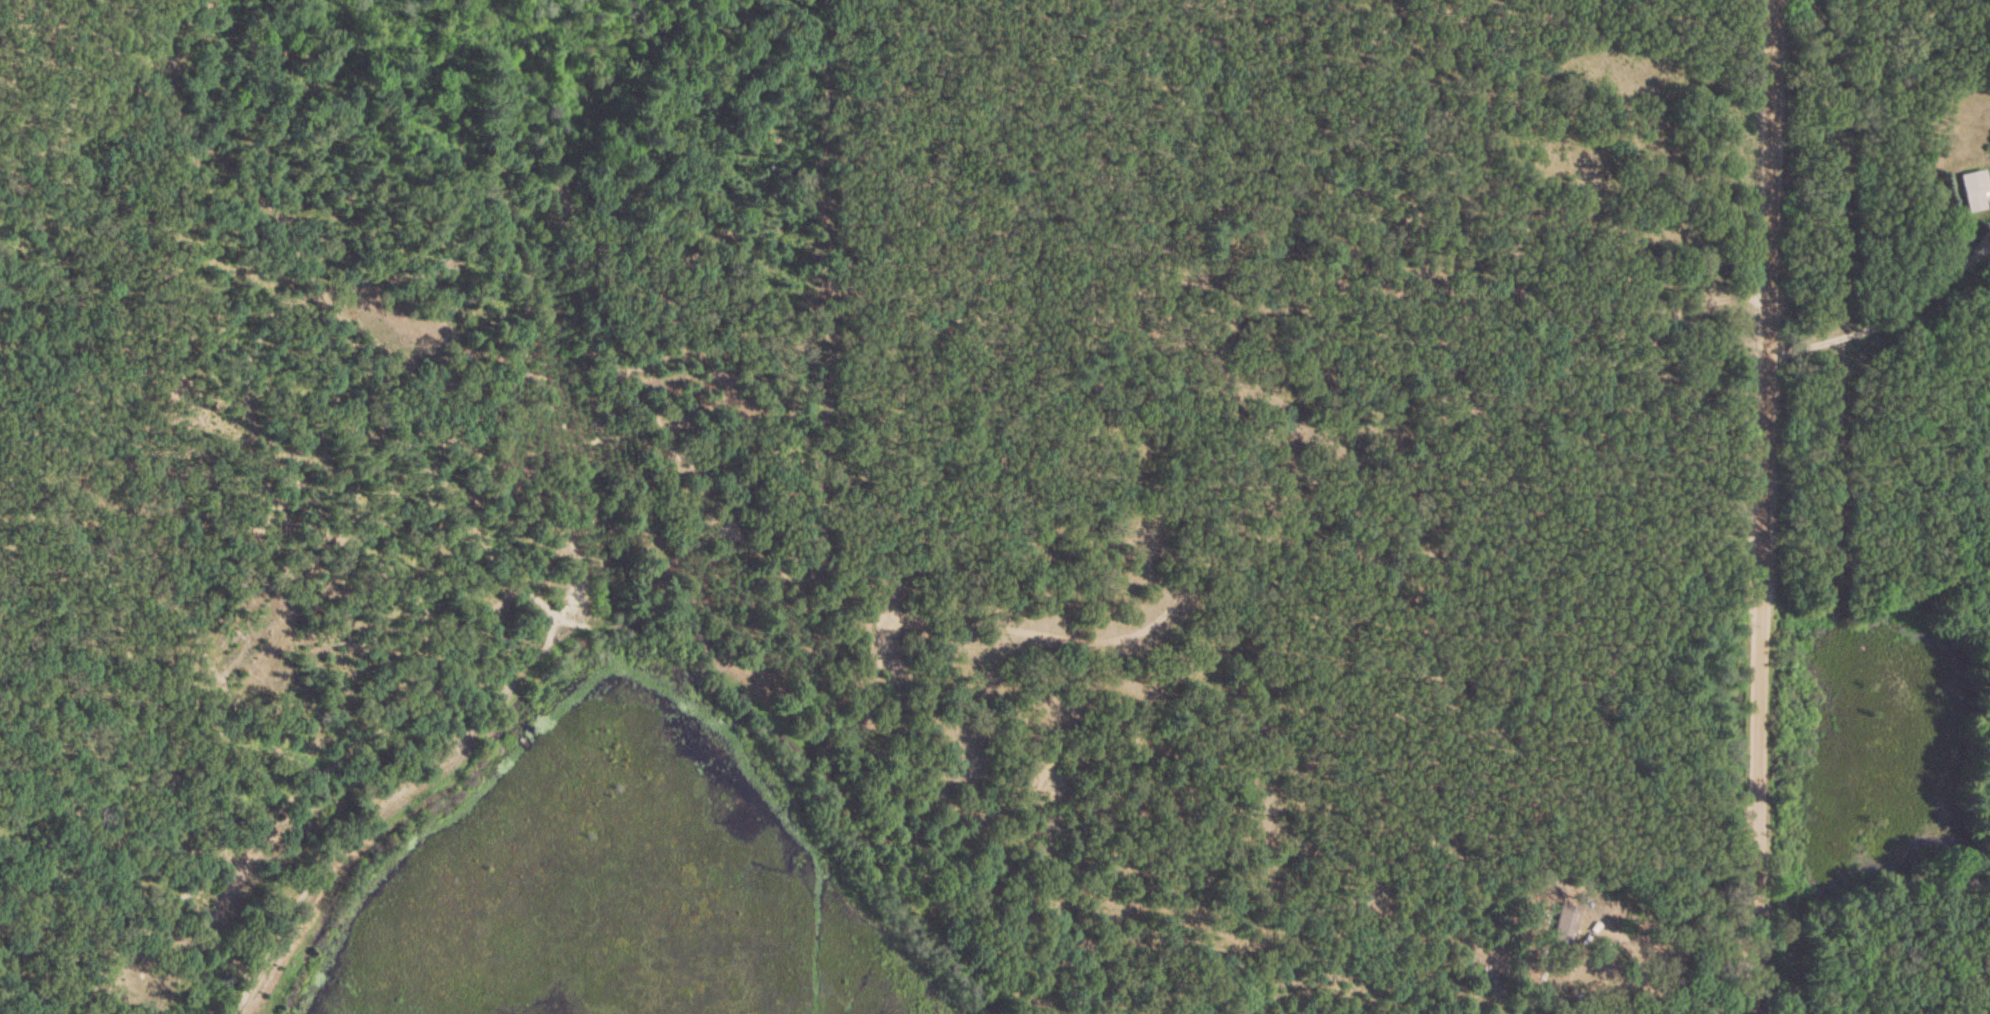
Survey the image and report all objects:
building: (1974, 194)
road: (1879, 317)
road: (1753, 506)
building: (1594, 985)

